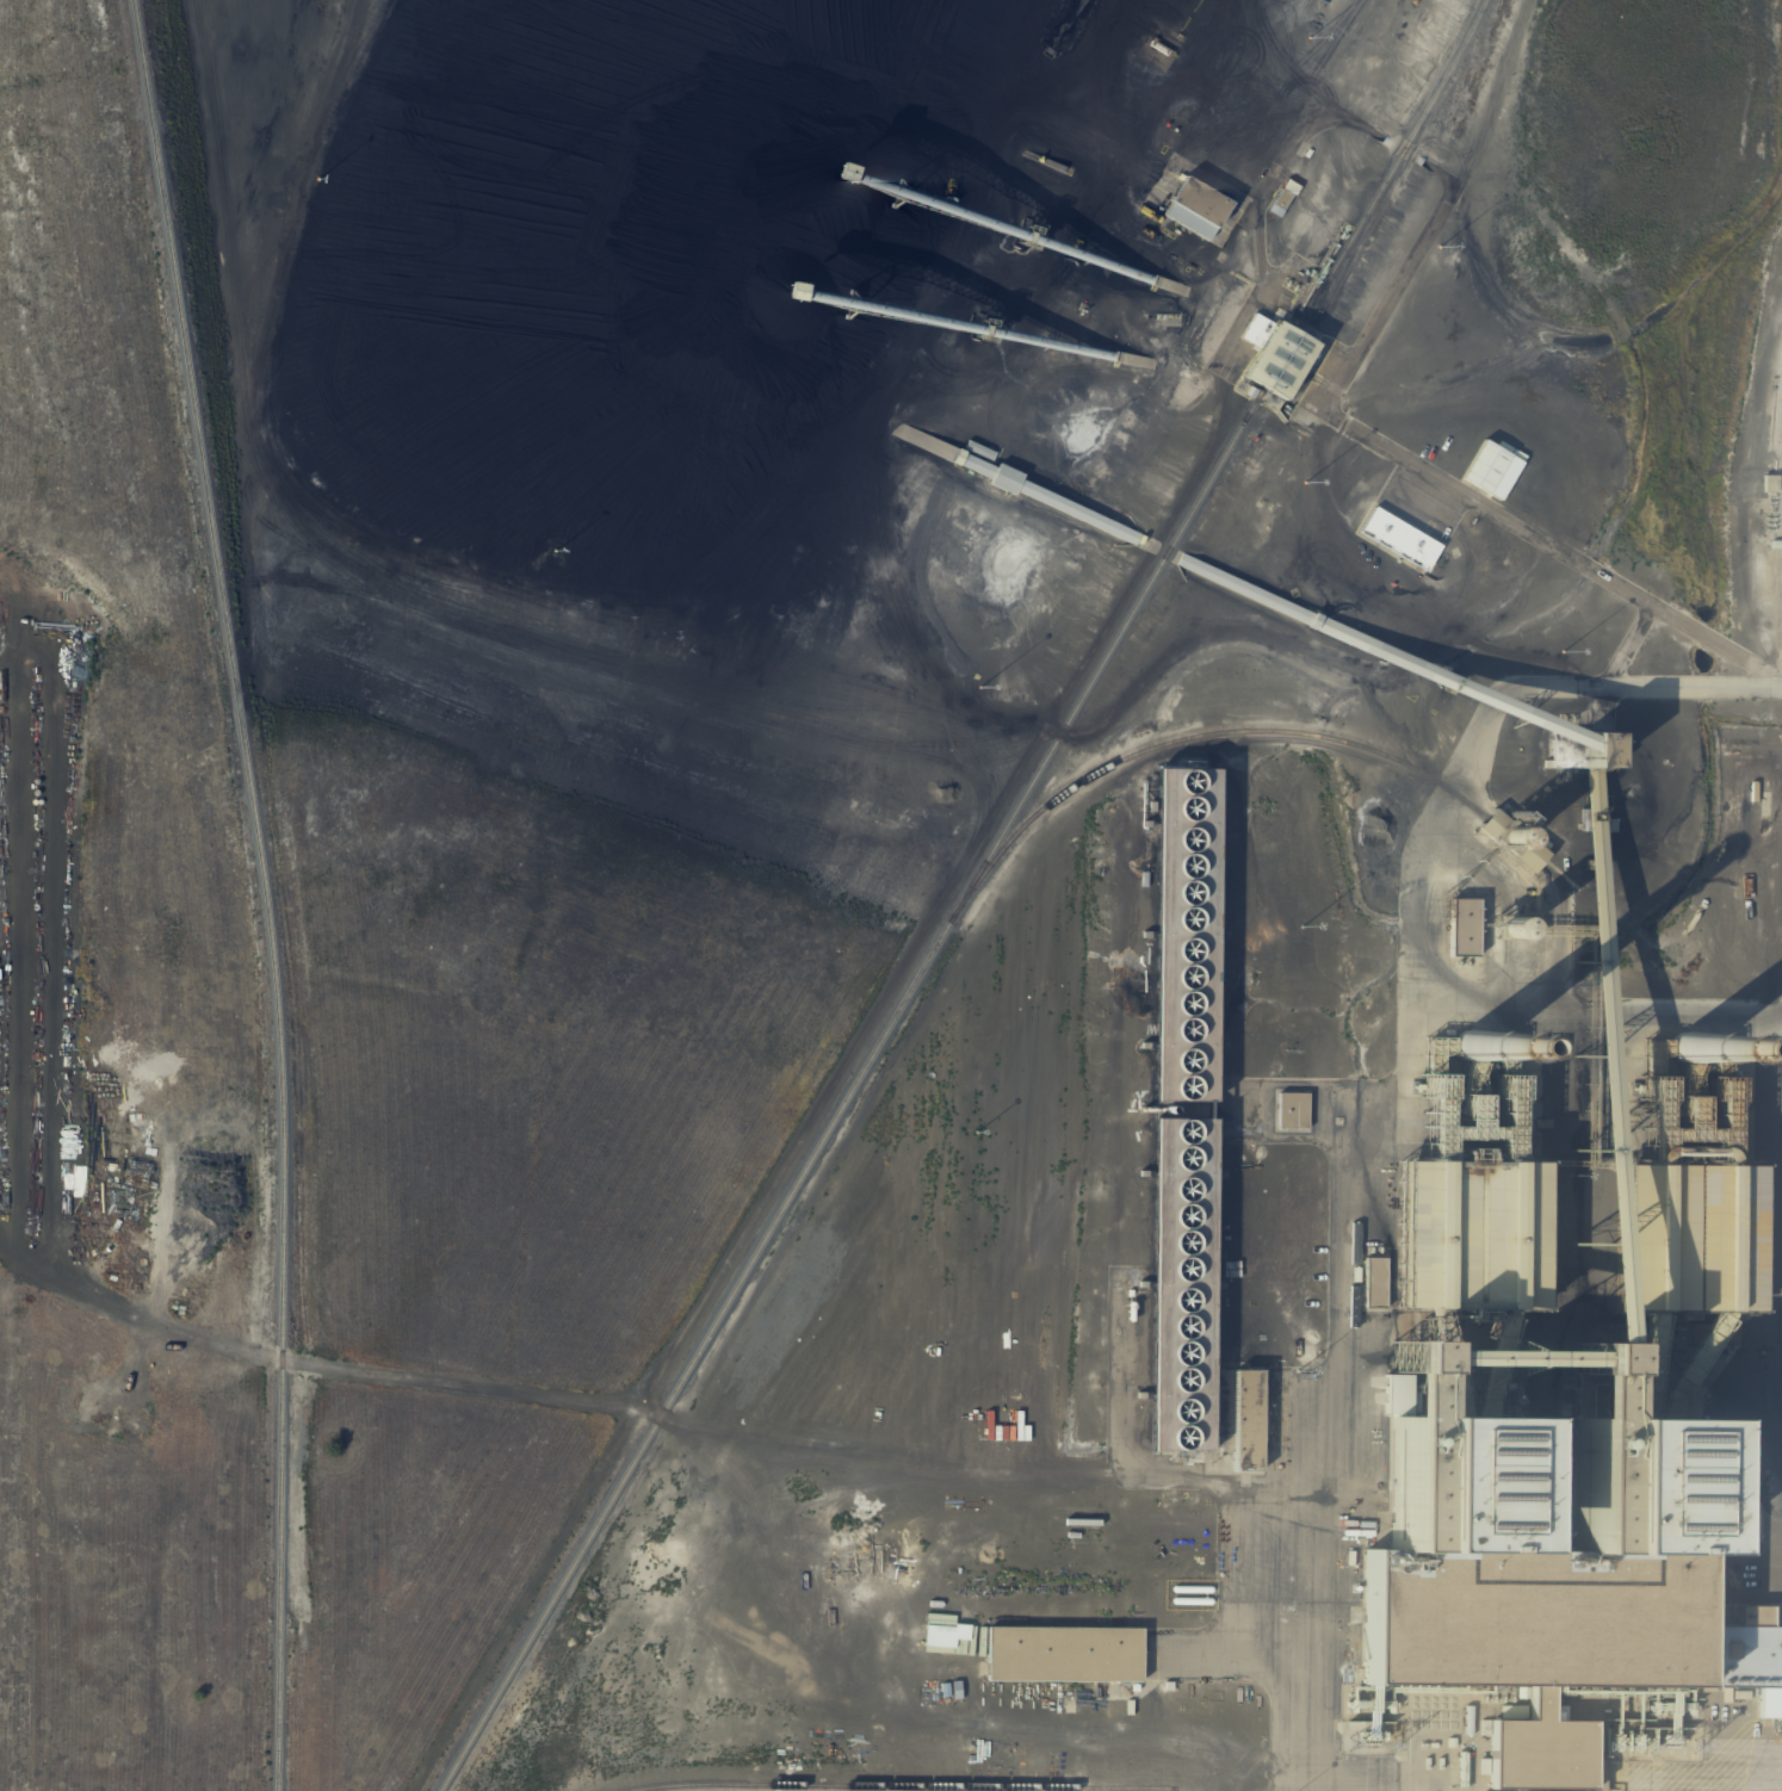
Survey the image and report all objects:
building: (1194, 210)
building: (1273, 358)
building: (1484, 469)
building: (1112, 529)
building: (1398, 540)
railway: (1322, 737)
railway: (264, 891)
power plant: (891, 895)
railway: (963, 897)
building: (1167, 942)
chimney: (1688, 1030)
chimney: (1468, 1031)
building: (1694, 1039)
building: (1291, 1111)
building: (1170, 1290)
building: (1552, 1444)
building: (1063, 1655)
railway: (837, 1787)

